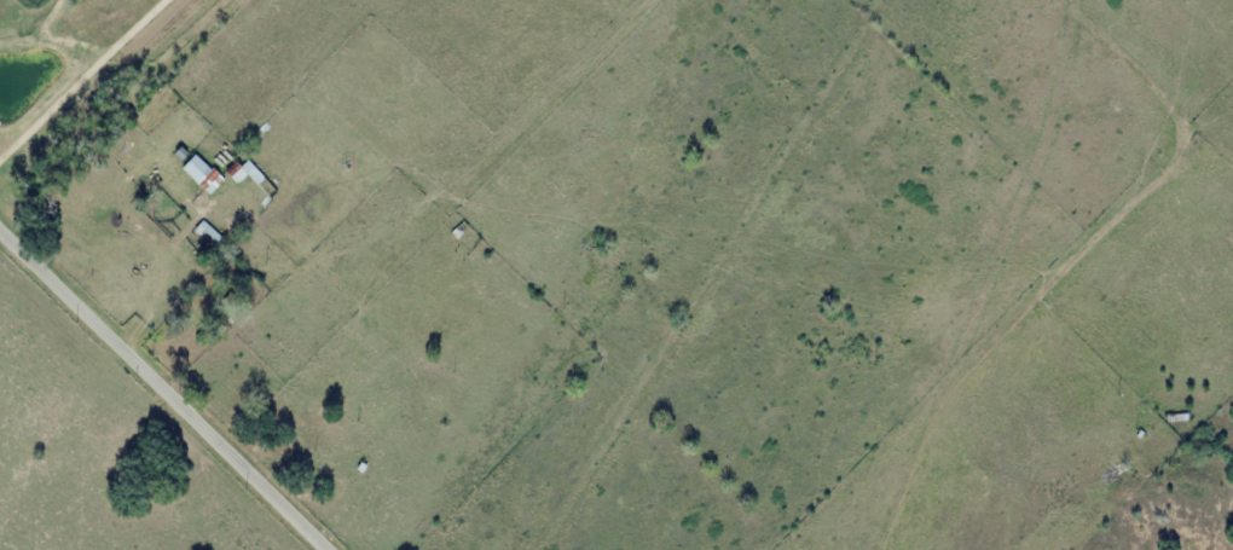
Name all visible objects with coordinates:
building: (196, 169)
building: (242, 170)
road: (169, 384)

